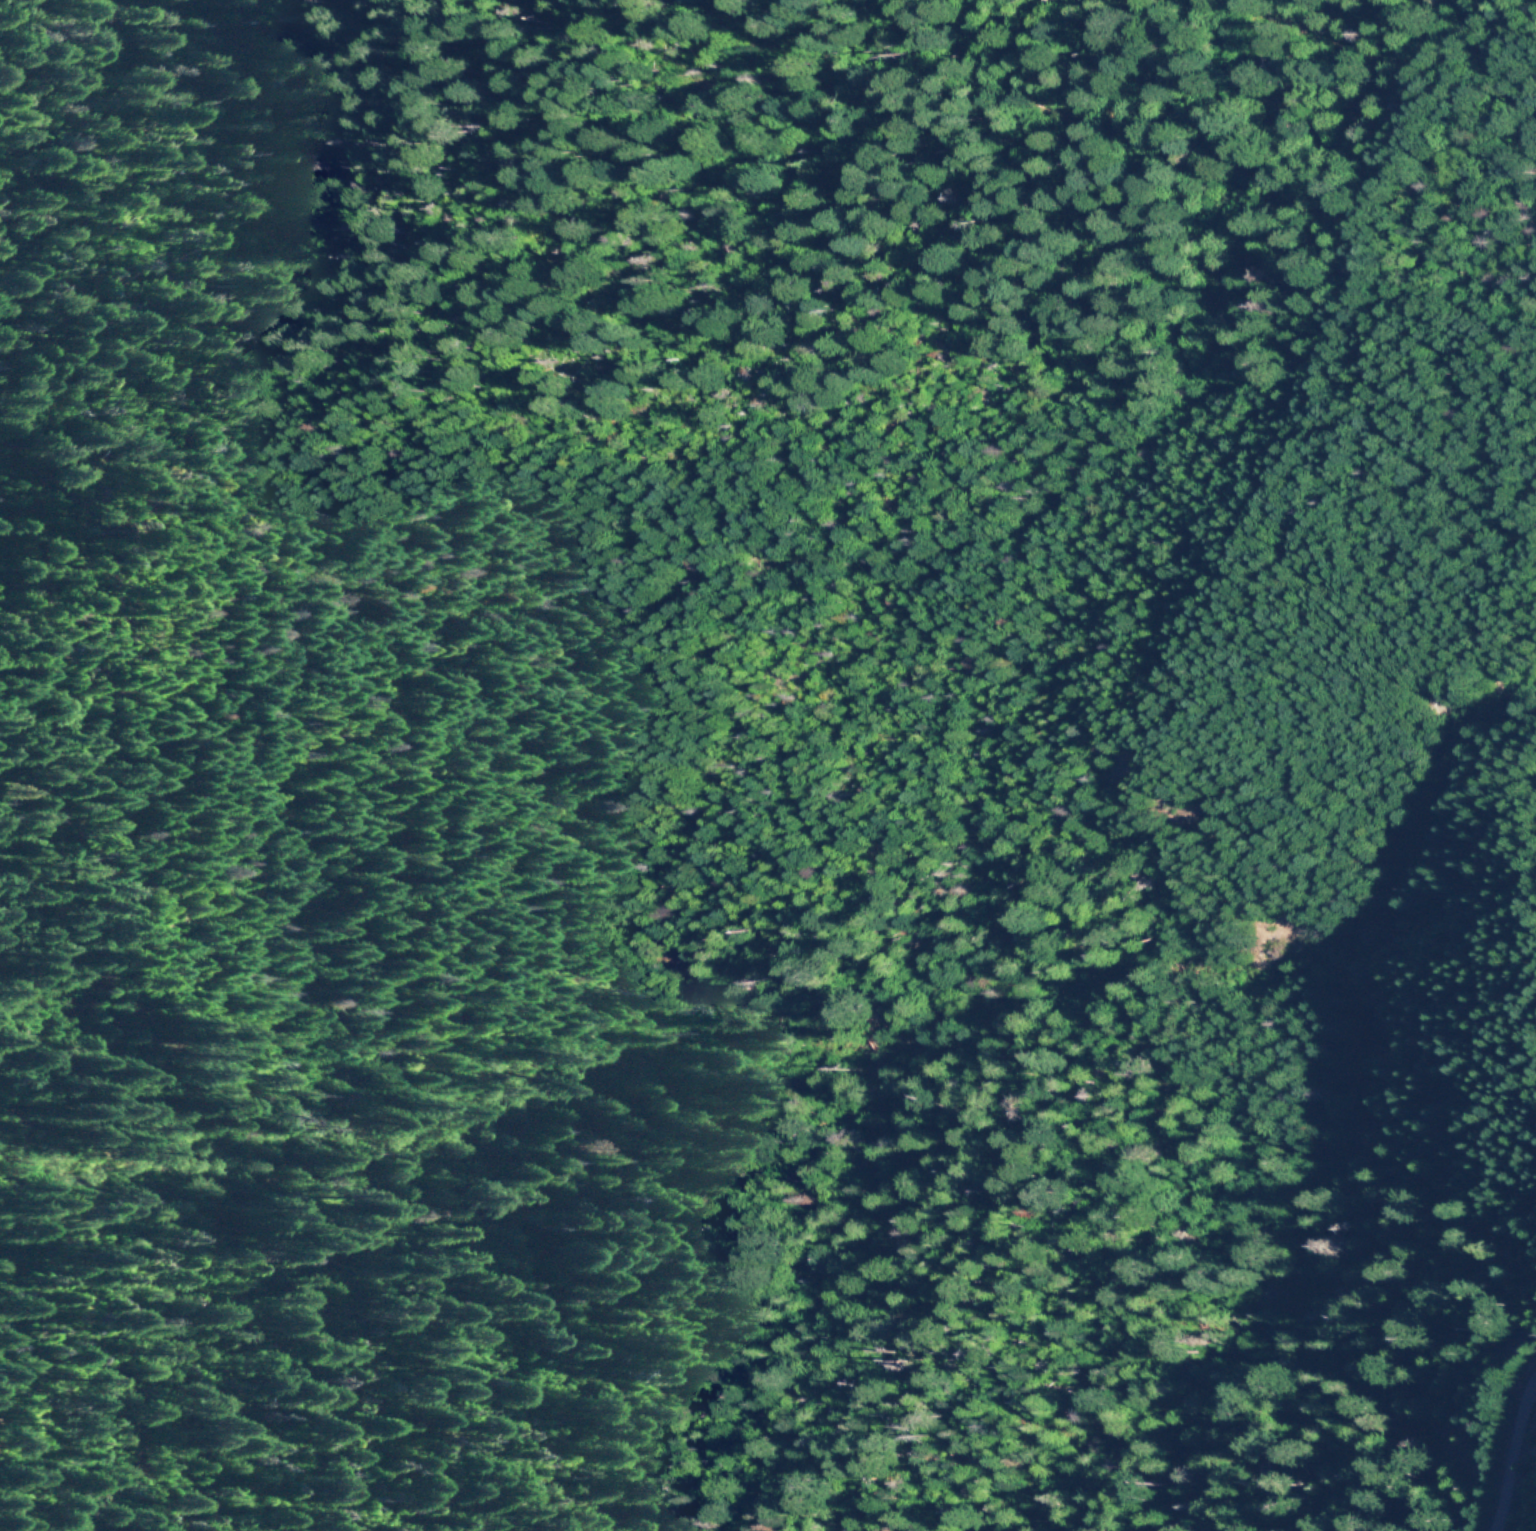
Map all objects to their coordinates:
road: (179, 611)
road: (1493, 1443)

